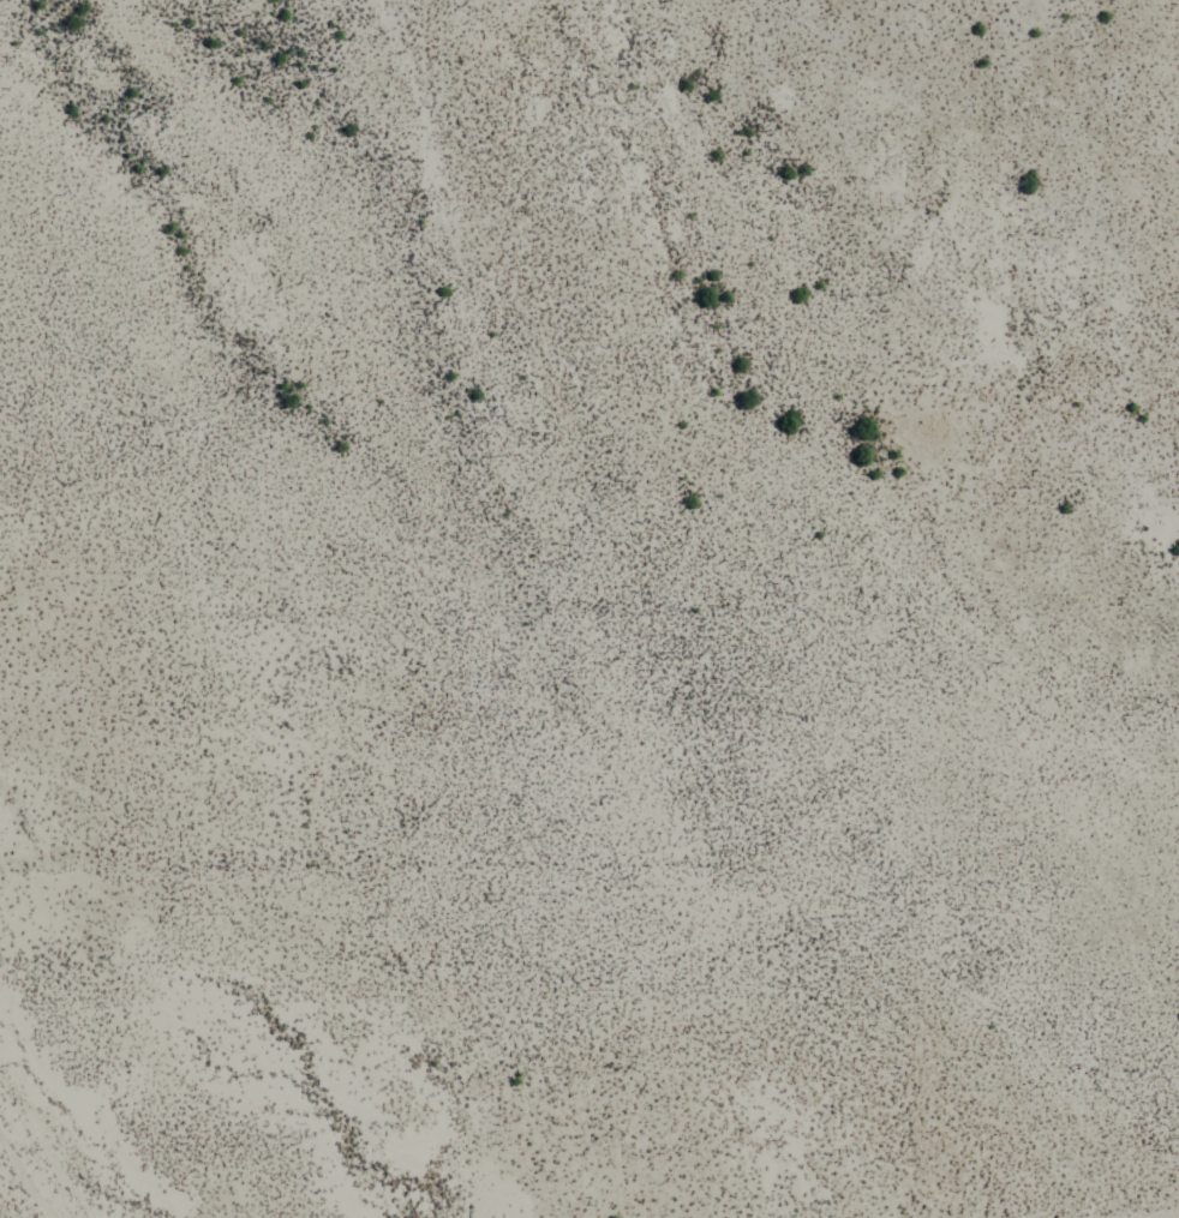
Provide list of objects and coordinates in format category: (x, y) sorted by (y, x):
road: (1156, 1214)

